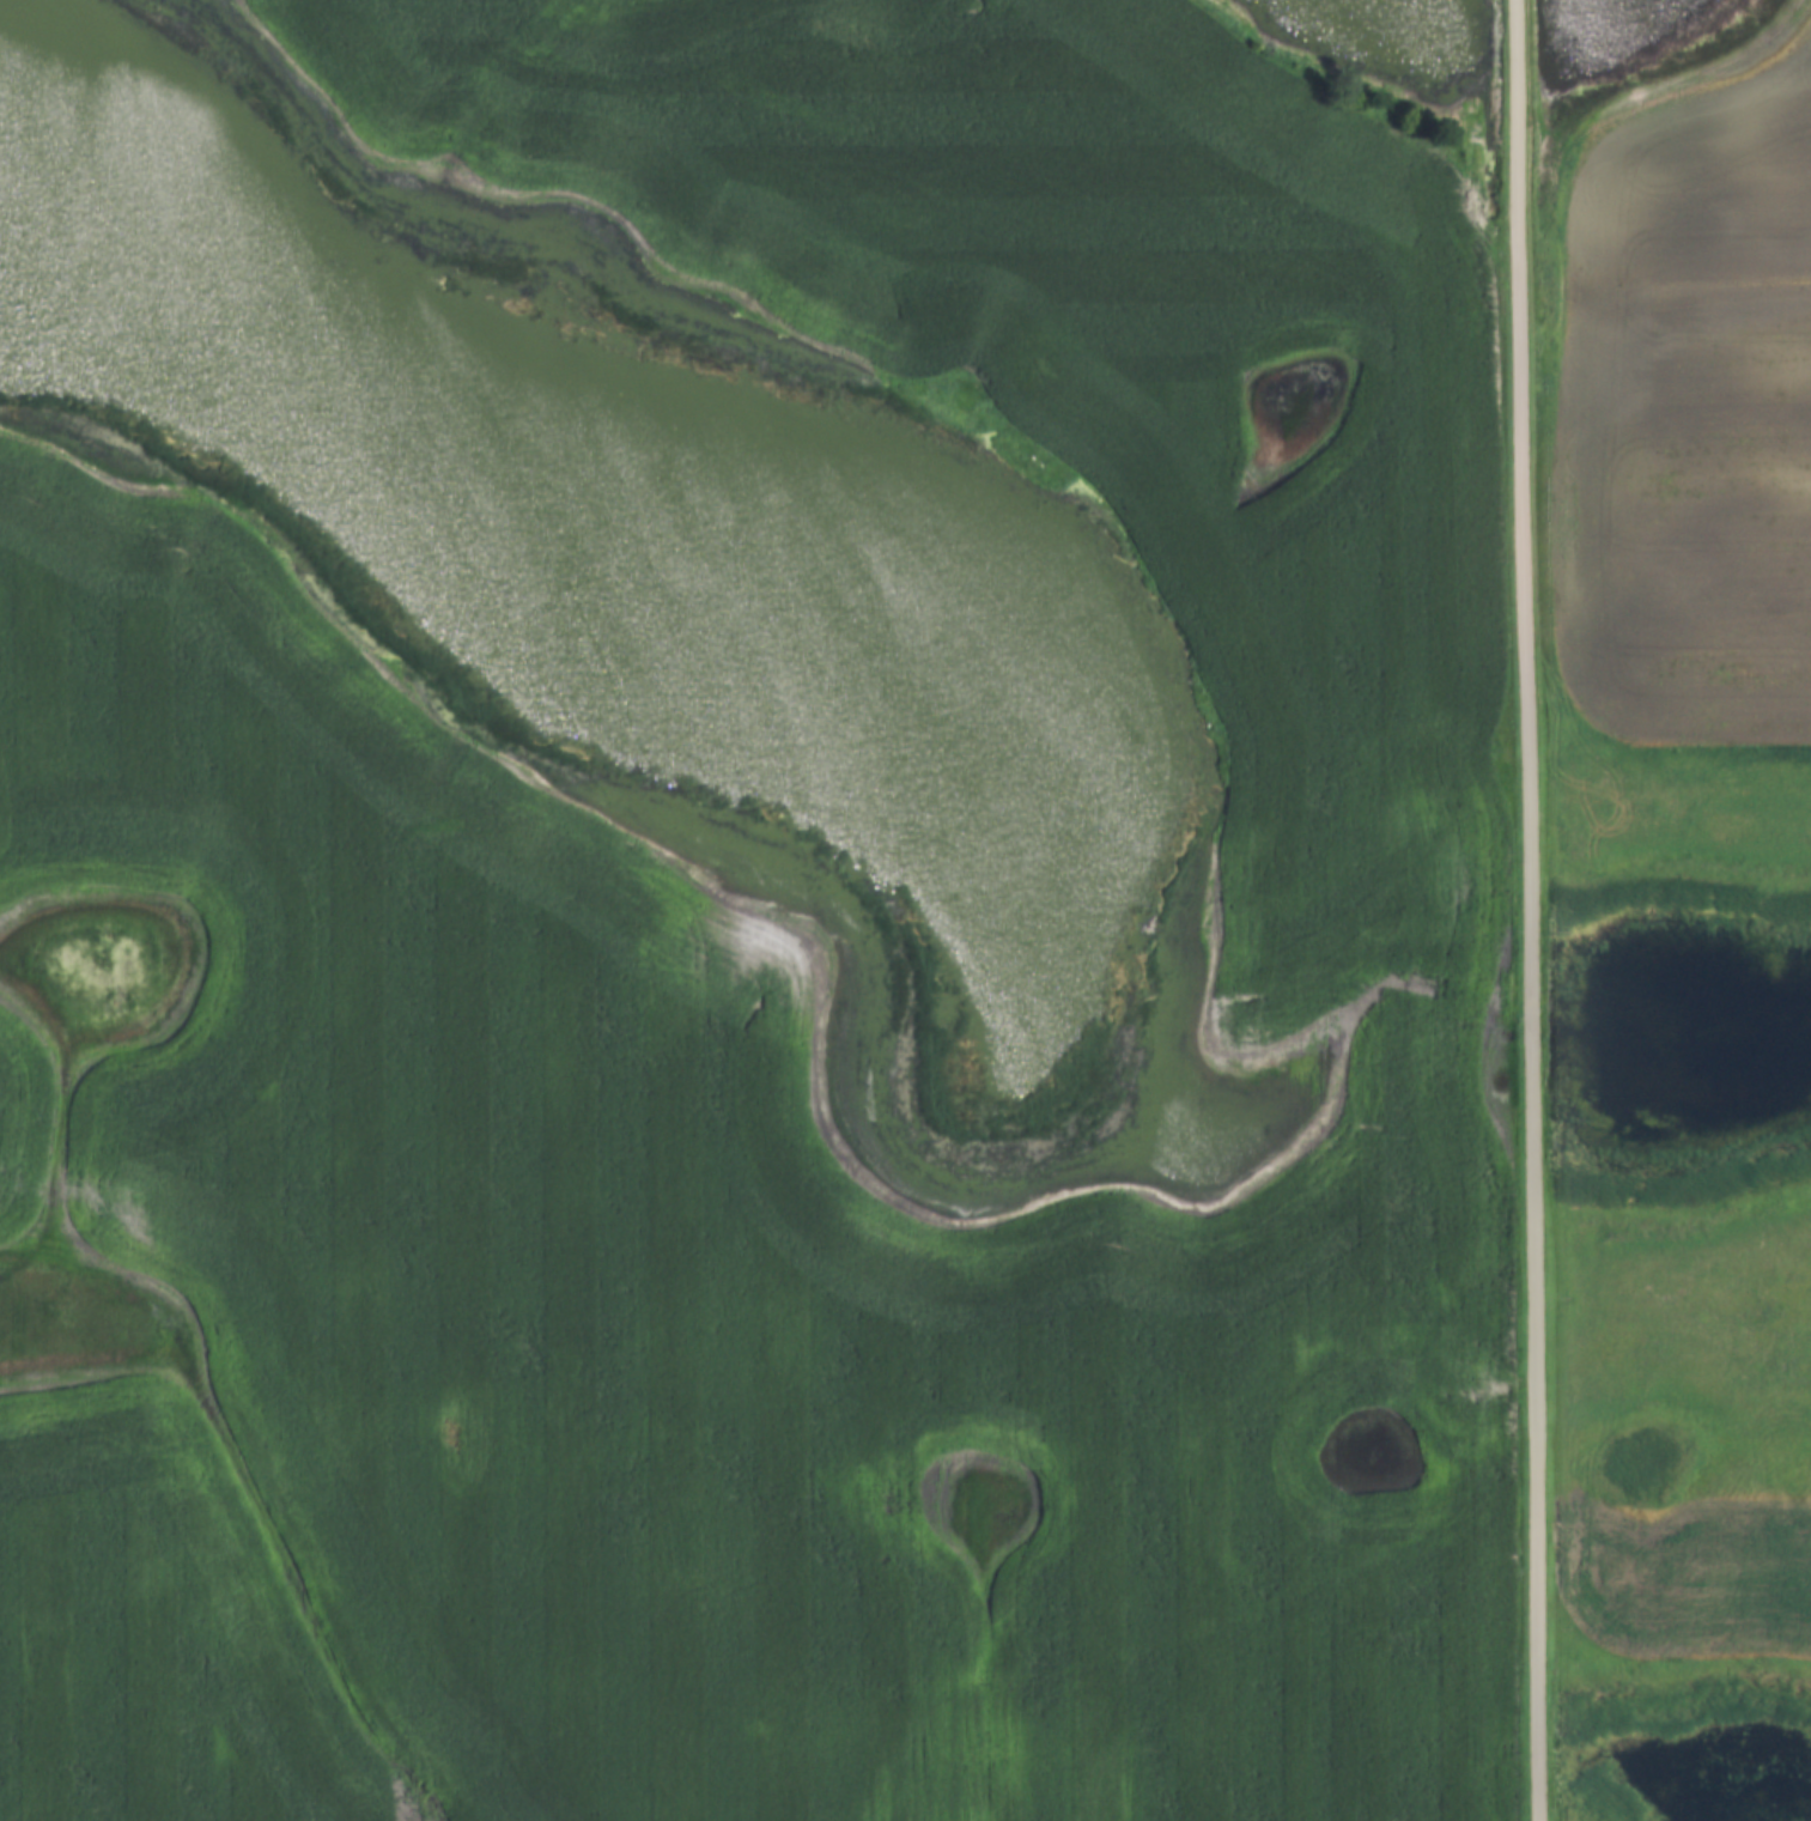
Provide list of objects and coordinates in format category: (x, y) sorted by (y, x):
road: (1537, 910)

